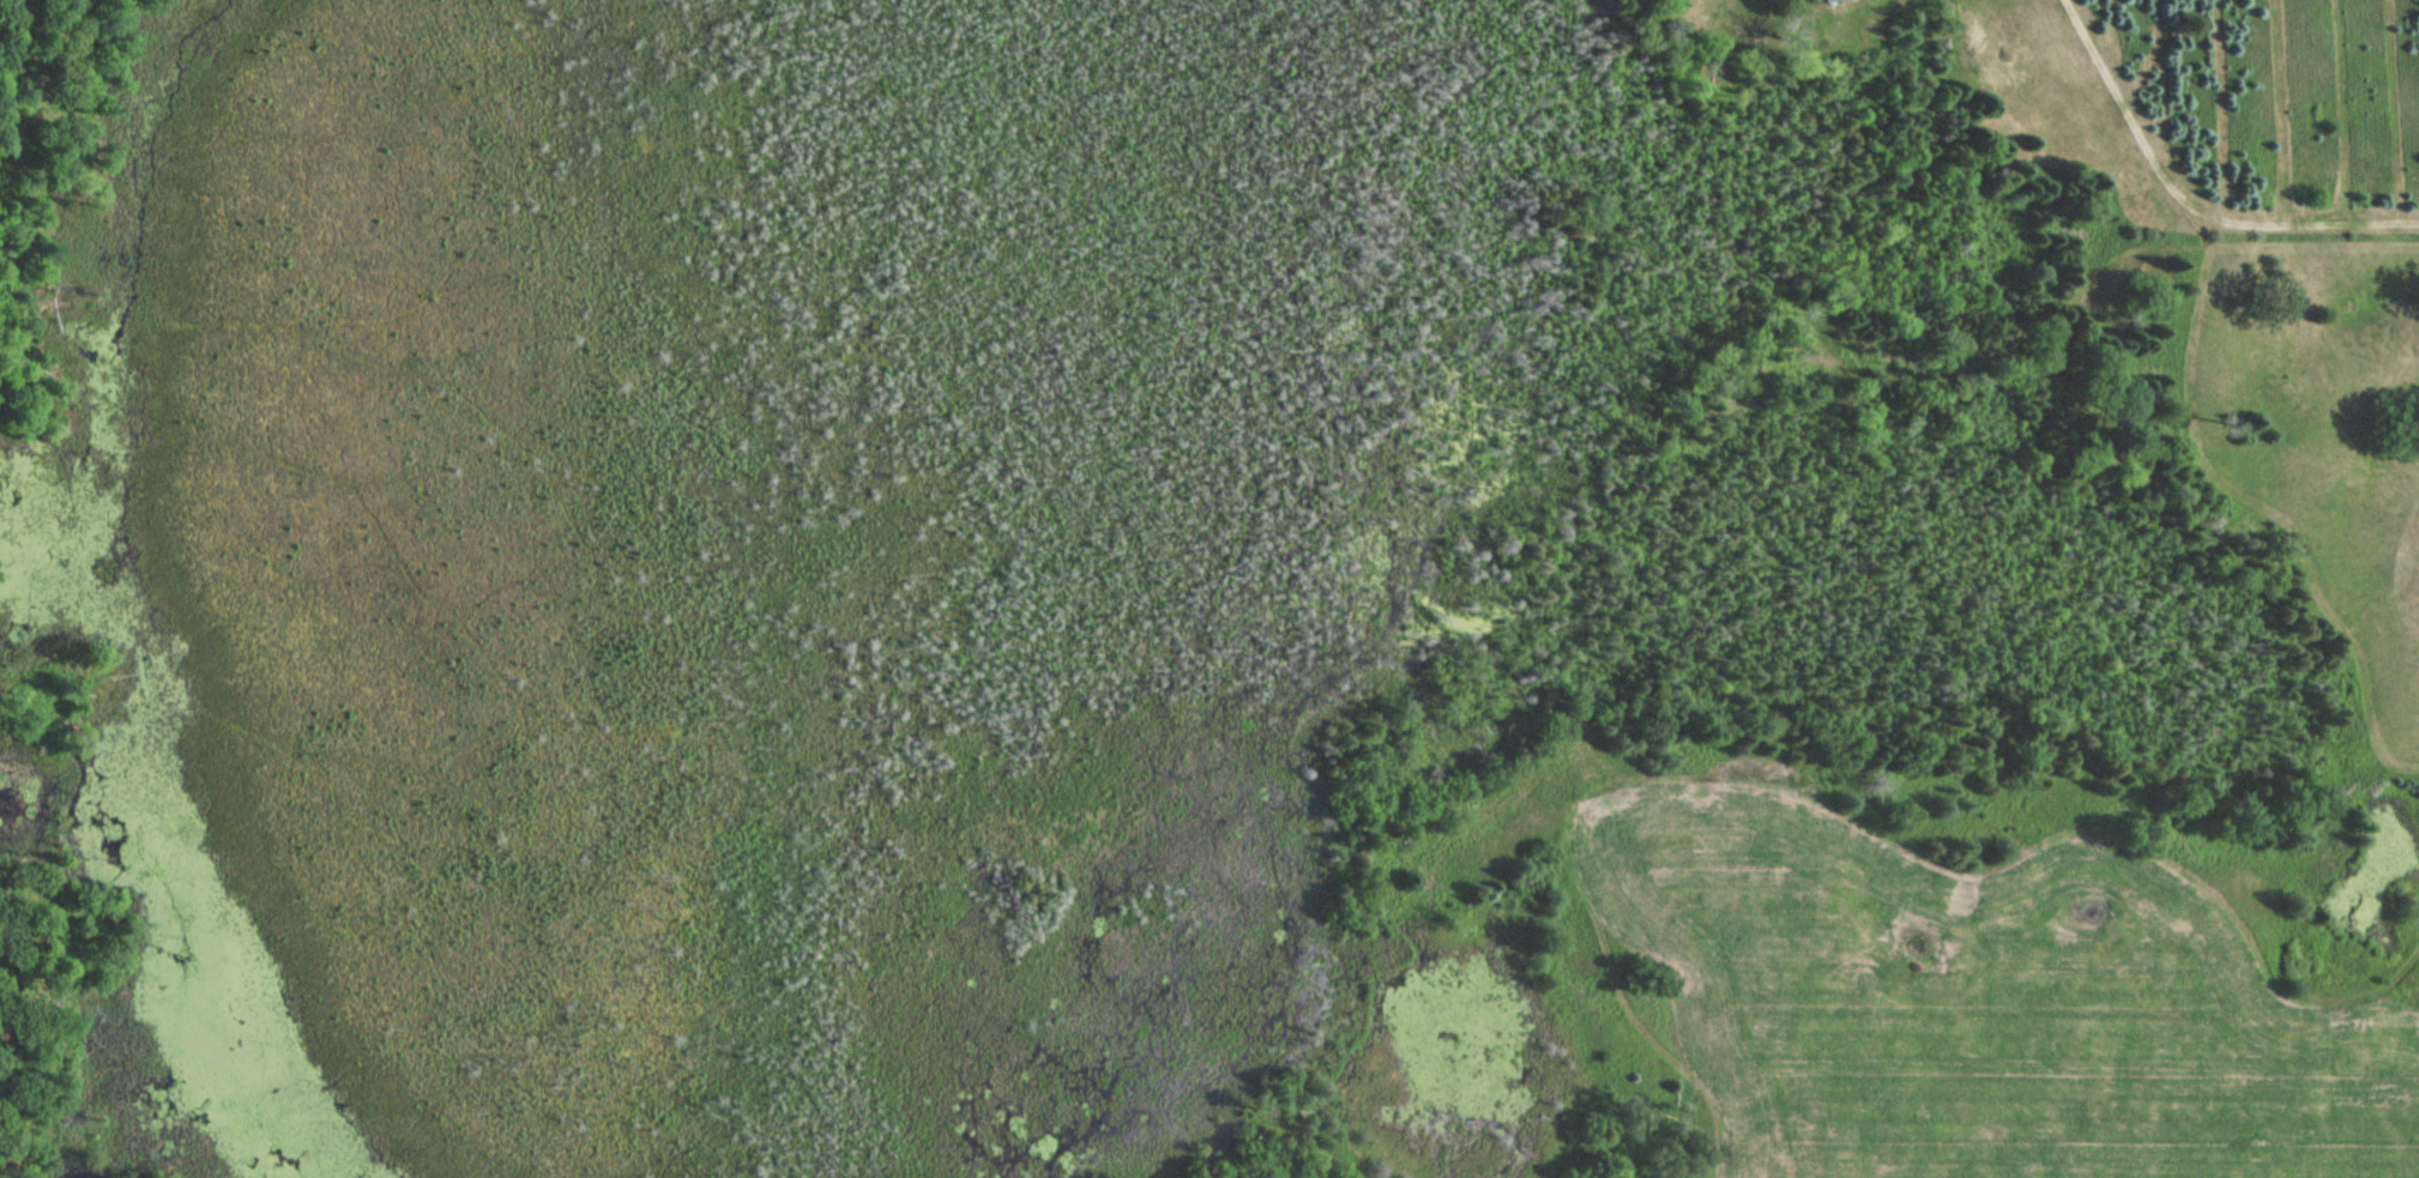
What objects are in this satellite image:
building: (1830, 0)
road: (2185, 205)

